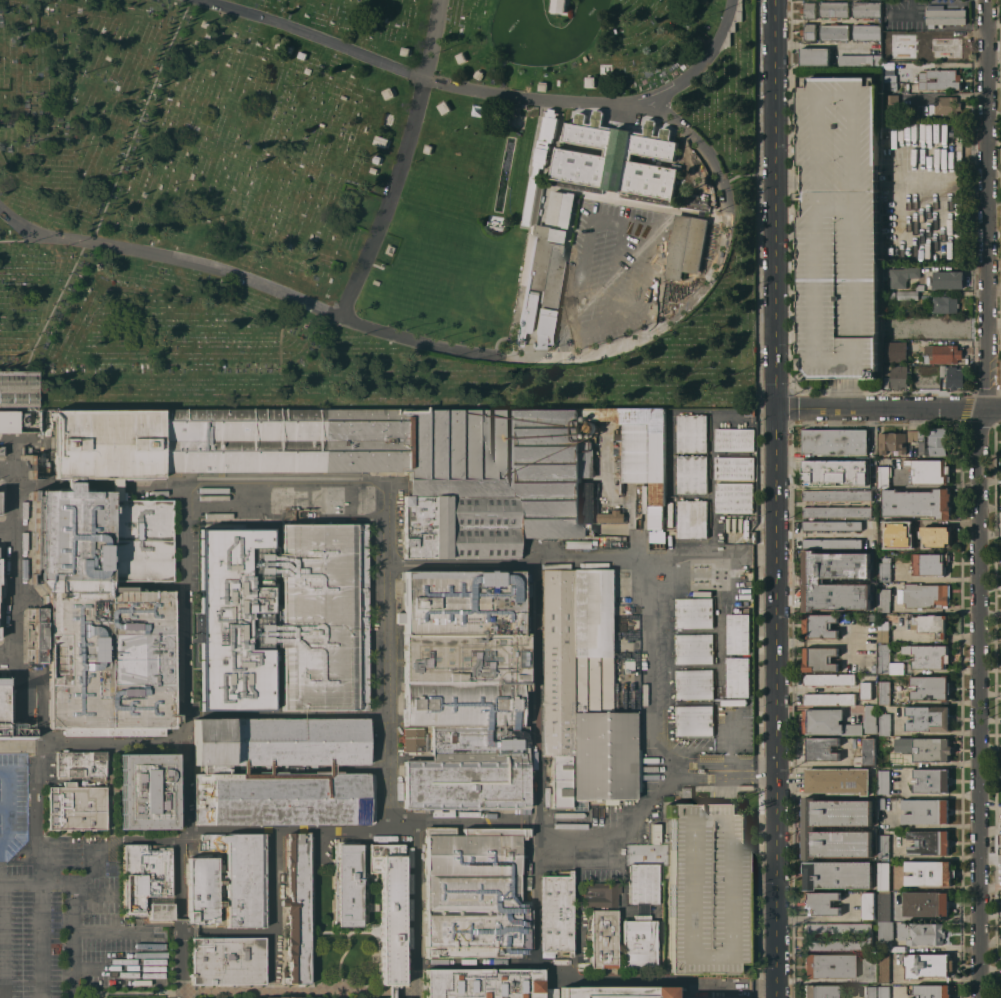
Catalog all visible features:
building: (558, 5)
building: (834, 9)
building: (866, 9)
building: (808, 10)
building: (897, 14)
building: (943, 16)
building: (808, 31)
building: (833, 31)
building: (867, 32)
road: (312, 34)
building: (899, 36)
road: (432, 39)
building: (278, 45)
building: (938, 47)
building: (288, 49)
building: (405, 51)
building: (301, 55)
building: (813, 56)
building: (898, 56)
building: (460, 57)
building: (859, 61)
road: (700, 65)
road: (539, 67)
building: (888, 69)
building: (604, 70)
building: (478, 74)
building: (939, 79)
building: (589, 81)
building: (888, 81)
building: (542, 86)
building: (908, 86)
building: (388, 93)
road: (532, 100)
building: (891, 105)
building: (944, 105)
building: (443, 107)
building: (597, 117)
road: (138, 120)
building: (380, 140)
building: (428, 149)
building: (376, 159)
building: (616, 163)
building: (373, 170)
road: (390, 200)
road: (633, 204)
road: (989, 204)
park: (377, 205)
building: (561, 209)
building: (838, 228)
parking lot: (838, 228)
road: (39, 233)
road: (19, 240)
building: (686, 245)
building: (389, 249)
road: (158, 255)
road: (524, 264)
building: (335, 265)
building: (545, 265)
parking lot: (610, 271)
building: (902, 276)
building: (947, 279)
building: (919, 287)
building: (891, 294)
building: (907, 294)
building: (943, 304)
road: (49, 315)
building: (524, 315)
building: (542, 327)
building: (893, 350)
building: (943, 353)
road: (582, 356)
building: (897, 375)
building: (952, 376)
building: (18, 389)
road: (883, 408)
road: (995, 409)
road: (691, 412)
building: (749, 413)
road: (728, 419)
building: (19, 421)
parking lot: (732, 426)
building: (589, 427)
building: (692, 433)
building: (912, 435)
building: (734, 439)
road: (4, 440)
building: (835, 441)
building: (932, 441)
building: (892, 442)
building: (1, 450)
road: (671, 456)
building: (43, 462)
road: (5, 466)
building: (734, 467)
building: (928, 470)
building: (836, 473)
building: (692, 474)
building: (883, 475)
road: (287, 477)
road: (711, 484)
road: (63, 486)
road: (157, 487)
building: (836, 495)
building: (734, 497)
road: (691, 499)
road: (777, 499)
road: (618, 500)
building: (0, 503)
building: (917, 503)
building: (837, 511)
building: (610, 516)
building: (692, 519)
road: (289, 520)
building: (831, 525)
building: (36, 528)
road: (8, 533)
building: (897, 536)
building: (937, 536)
building: (652, 540)
building: (832, 543)
building: (577, 544)
road: (701, 556)
building: (929, 563)
road: (523, 565)
building: (883, 569)
building: (76, 574)
building: (526, 575)
building: (813, 580)
road: (16, 594)
building: (923, 595)
building: (883, 600)
building: (463, 601)
parking lot: (729, 610)
building: (693, 612)
building: (285, 616)
building: (872, 617)
road: (279, 618)
building: (929, 624)
building: (819, 626)
building: (882, 631)
building: (738, 633)
building: (38, 634)
building: (0, 636)
road: (815, 642)
building: (693, 648)
road: (8, 656)
building: (928, 656)
road: (719, 658)
building: (819, 658)
building: (886, 662)
building: (738, 677)
building: (828, 679)
building: (4, 680)
building: (461, 681)
building: (693, 683)
building: (930, 688)
building: (865, 690)
road: (537, 691)
building: (582, 692)
building: (883, 692)
building: (829, 698)
building: (733, 702)
road: (980, 702)
road: (700, 703)
building: (3, 704)
building: (623, 704)
road: (730, 704)
road: (289, 715)
building: (928, 718)
building: (870, 719)
building: (694, 720)
building: (827, 722)
building: (884, 724)
building: (17, 730)
road: (730, 730)
parking lot: (724, 732)
road: (392, 739)
road: (186, 741)
building: (212, 741)
building: (267, 741)
building: (336, 741)
road: (93, 743)
building: (820, 748)
building: (925, 748)
building: (868, 750)
road: (659, 756)
road: (730, 762)
building: (80, 763)
building: (50, 764)
road: (289, 768)
building: (216, 769)
building: (471, 769)
road: (722, 771)
building: (837, 780)
building: (931, 780)
building: (883, 781)
building: (148, 791)
building: (284, 798)
parking lot: (13, 804)
road: (7, 806)
building: (76, 806)
building: (925, 811)
road: (39, 812)
building: (809, 828)
road: (289, 830)
building: (929, 842)
building: (883, 846)
building: (929, 872)
building: (836, 874)
road: (2, 875)
building: (883, 876)
road: (623, 878)
road: (54, 880)
road: (18, 881)
building: (228, 881)
building: (147, 882)
building: (346, 885)
building: (707, 888)
parking lot: (707, 888)
building: (474, 891)
road: (536, 891)
building: (822, 903)
building: (925, 903)
building: (868, 905)
building: (884, 905)
building: (297, 909)
road: (618, 909)
road: (278, 911)
building: (390, 911)
building: (557, 912)
building: (642, 918)
parking lot: (30, 919)
road: (364, 920)
parking lot: (106, 922)
road: (580, 923)
building: (602, 923)
building: (193, 928)
building: (838, 928)
road: (230, 931)
park: (346, 931)
building: (920, 933)
building: (145, 935)
building: (885, 935)
road: (4, 939)
road: (38, 939)
road: (72, 939)
building: (838, 945)
building: (227, 960)
building: (827, 965)
building: (932, 965)
building: (883, 967)
road: (574, 979)
building: (484, 983)
building: (820, 991)
building: (932, 991)
building: (550, 992)
building: (616, 992)
building: (870, 992)
building: (883, 992)
road: (298, 993)
road: (417, 996)
building: (307, 997)

